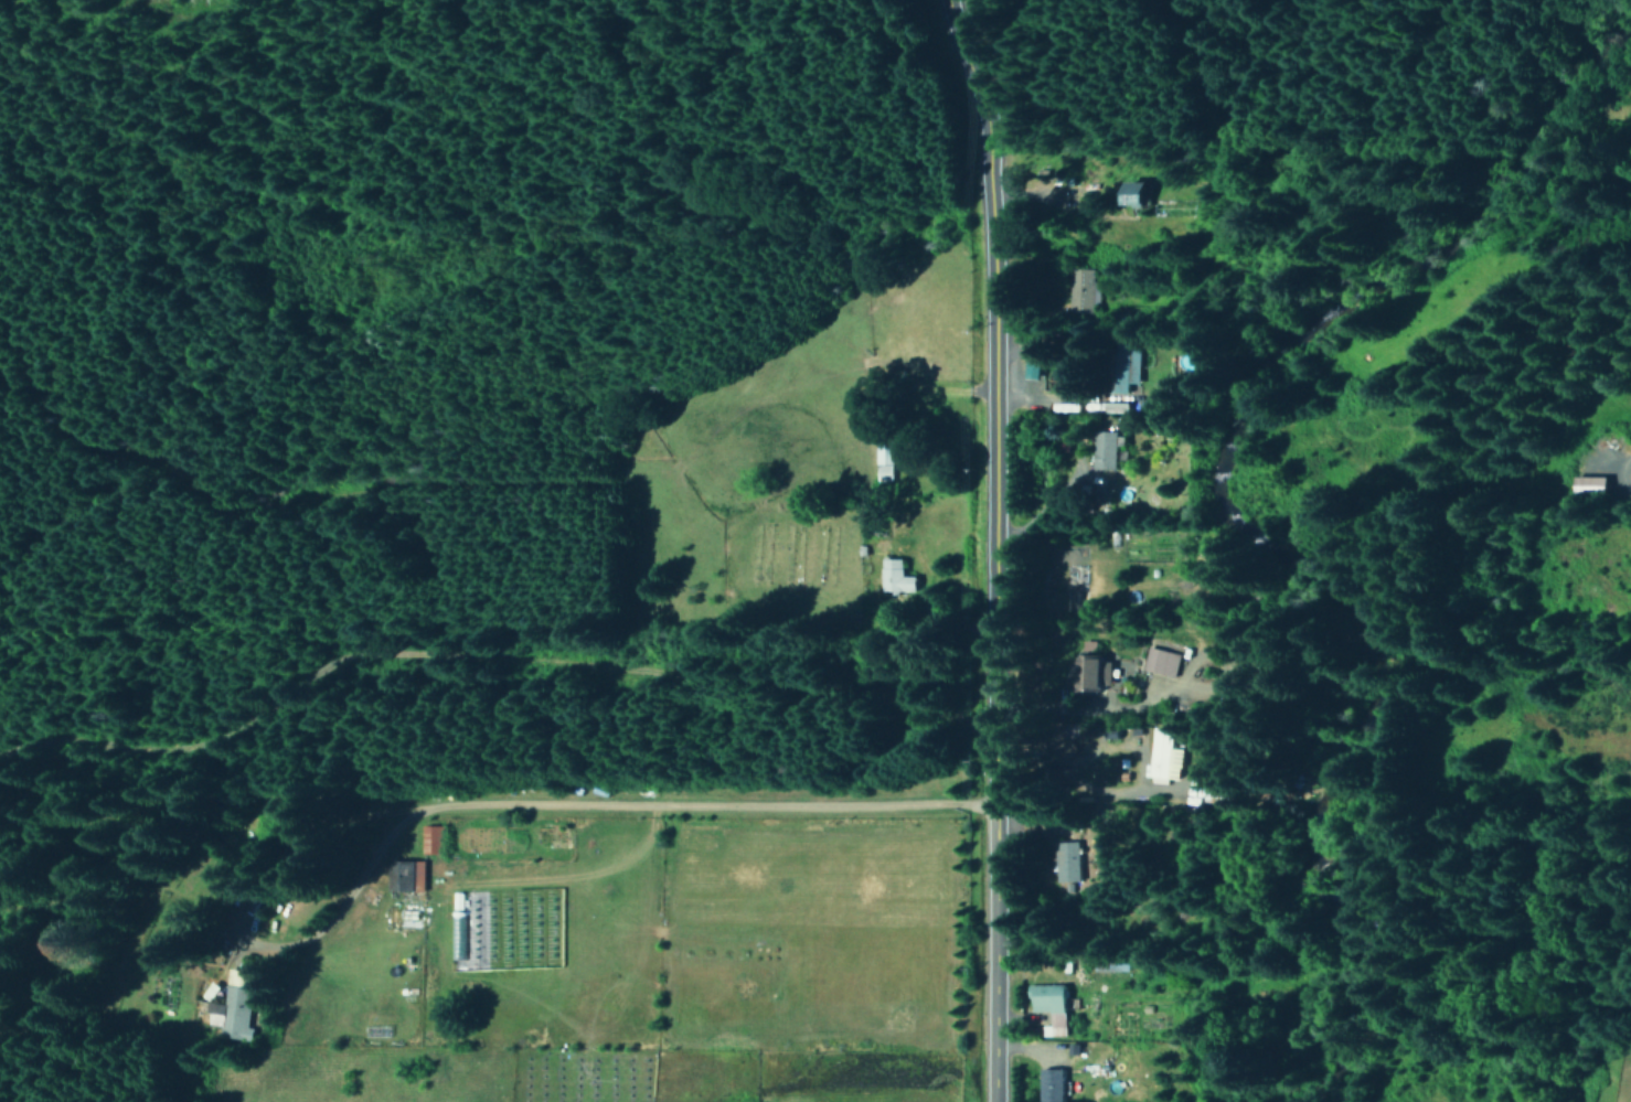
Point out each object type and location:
road: (959, 17)
building: (1138, 194)
building: (1080, 290)
building: (1036, 362)
building: (1127, 370)
building: (1118, 406)
building: (1109, 449)
building: (885, 453)
building: (885, 472)
building: (1595, 483)
river: (1287, 512)
road: (990, 547)
building: (897, 576)
building: (1162, 661)
building: (1099, 672)
building: (1165, 755)
road: (563, 799)
building: (430, 838)
building: (1070, 860)
building: (407, 876)
building: (174, 950)
building: (234, 1006)
building: (1052, 1006)
building: (1054, 1085)

